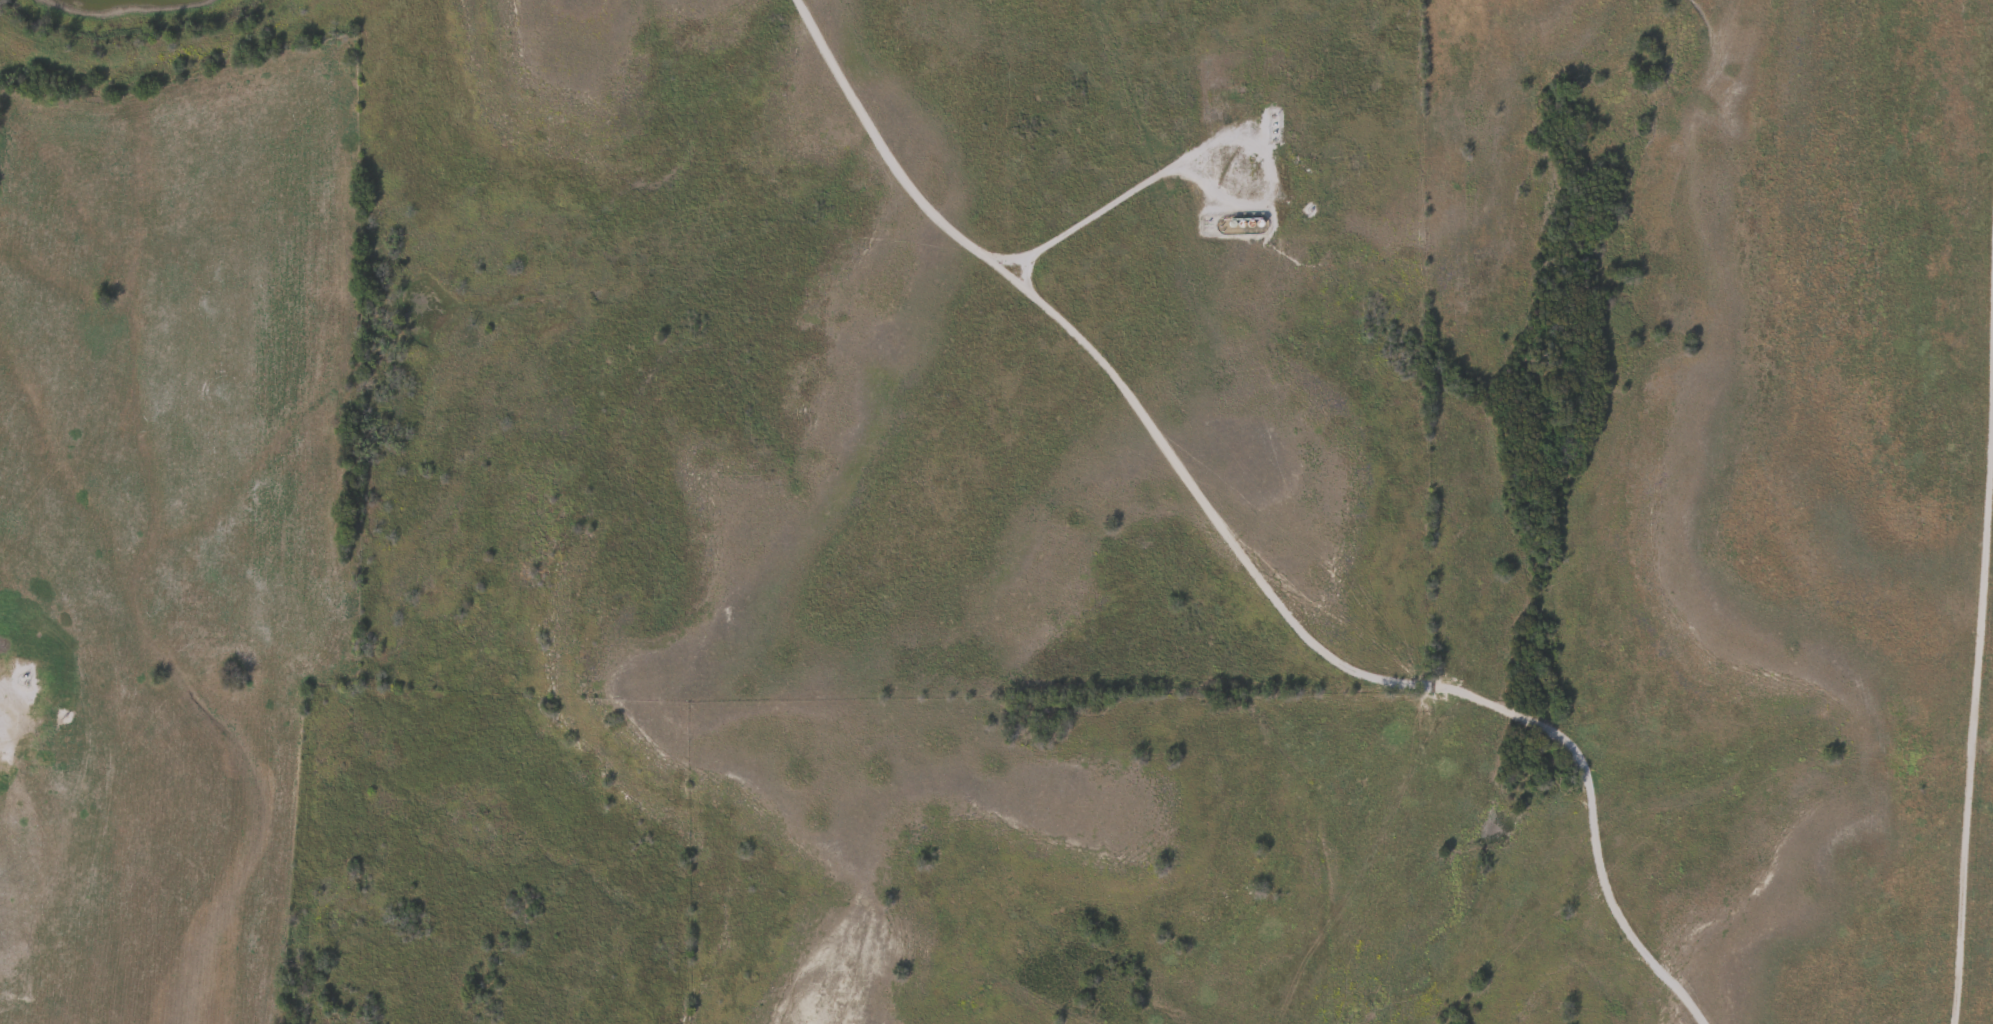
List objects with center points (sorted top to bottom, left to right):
road: (1109, 201)
road: (1237, 555)
road: (1977, 633)

